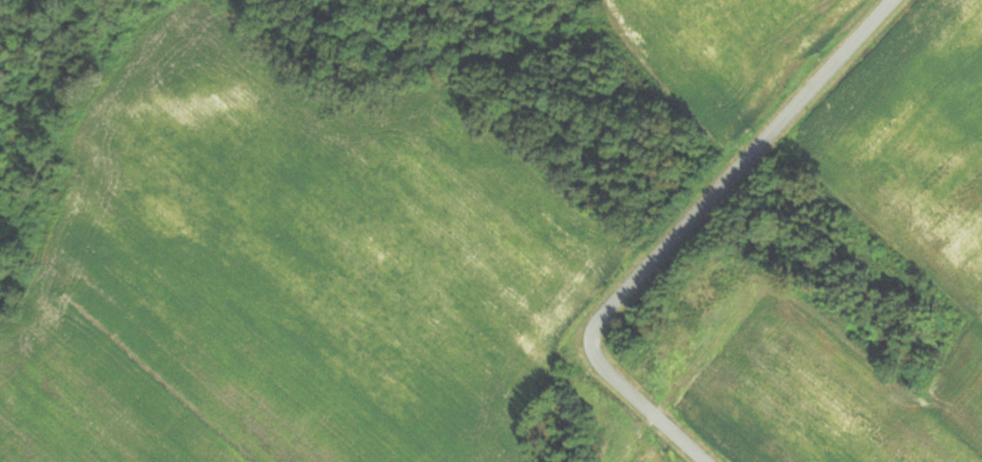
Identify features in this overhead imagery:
road: (678, 235)

